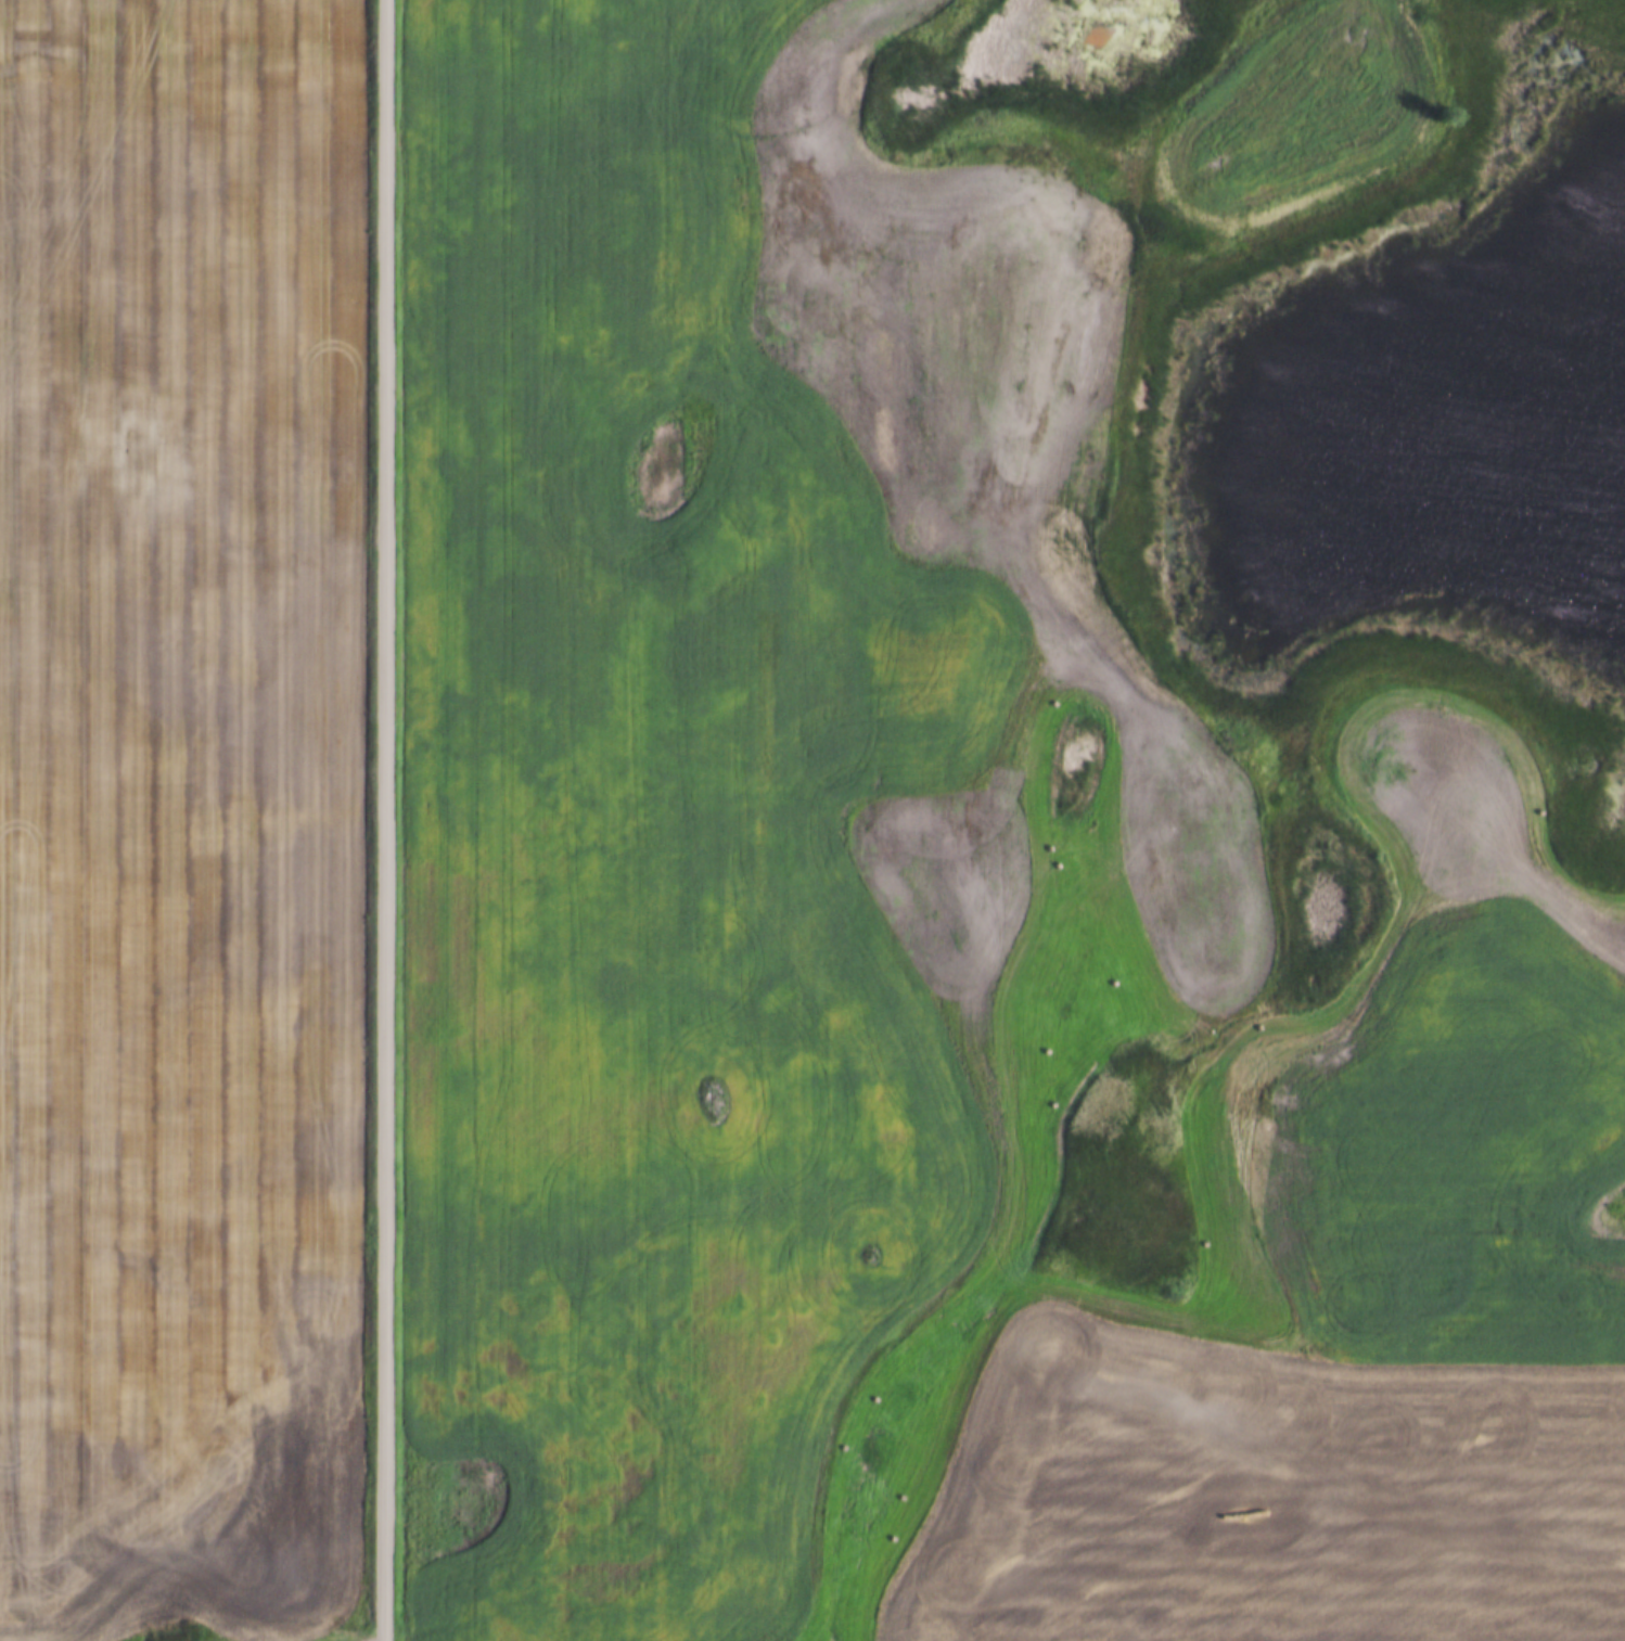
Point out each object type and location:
road: (385, 820)
road: (363, 1636)

